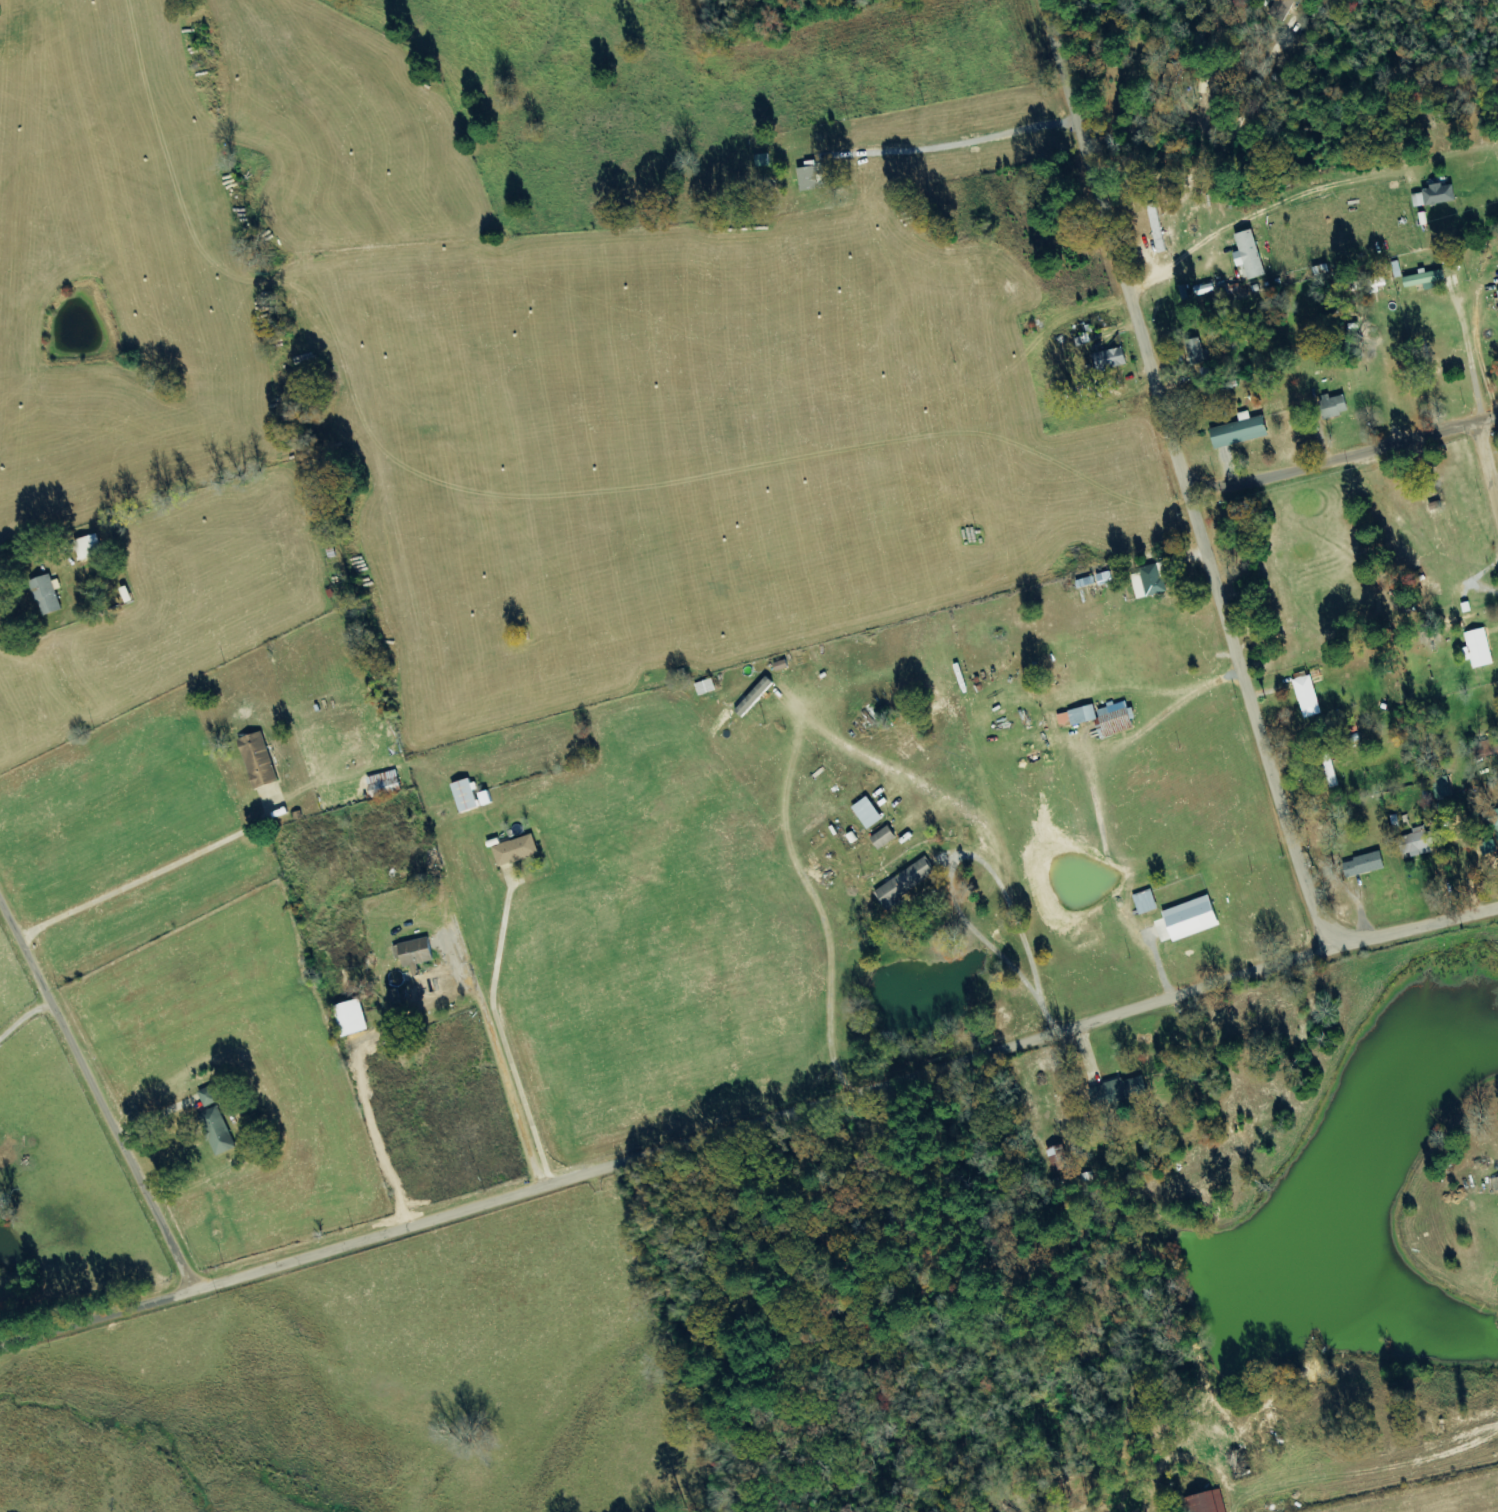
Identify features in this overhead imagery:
road: (818, 138)
building: (812, 177)
building: (1441, 194)
building: (1251, 254)
building: (1397, 269)
building: (1426, 280)
building: (1111, 359)
building: (1337, 405)
building: (1242, 431)
road: (1344, 458)
road: (1489, 458)
road: (1183, 475)
building: (89, 546)
building: (1155, 579)
building: (48, 594)
building: (1480, 648)
building: (706, 687)
building: (756, 696)
building: (1309, 696)
building: (1079, 716)
building: (1117, 719)
building: (260, 760)
building: (467, 795)
building: (487, 798)
building: (869, 813)
building: (1492, 816)
building: (885, 838)
building: (1420, 842)
building: (517, 850)
building: (1366, 865)
building: (907, 883)
building: (1147, 902)
building: (1194, 918)
building: (420, 964)
building: (354, 1018)
building: (1119, 1089)
building: (209, 1096)
road: (98, 1097)
road: (748, 1127)
building: (219, 1131)
building: (1057, 1158)
building: (1496, 1184)
building: (1208, 1502)

